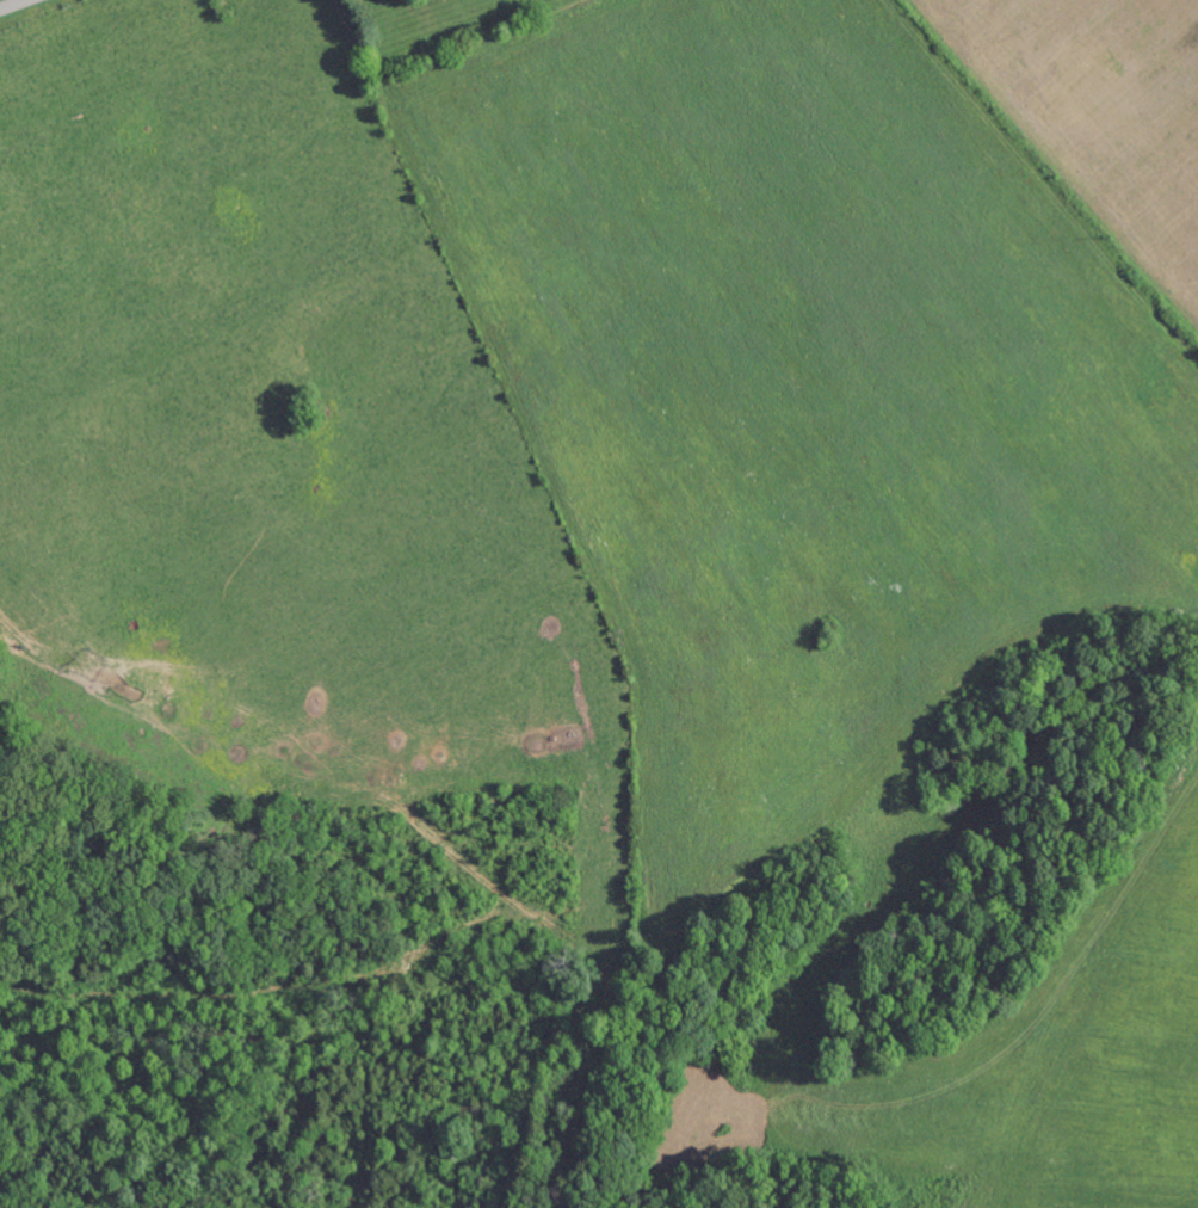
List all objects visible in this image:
road: (14, 5)
road: (616, 1170)

